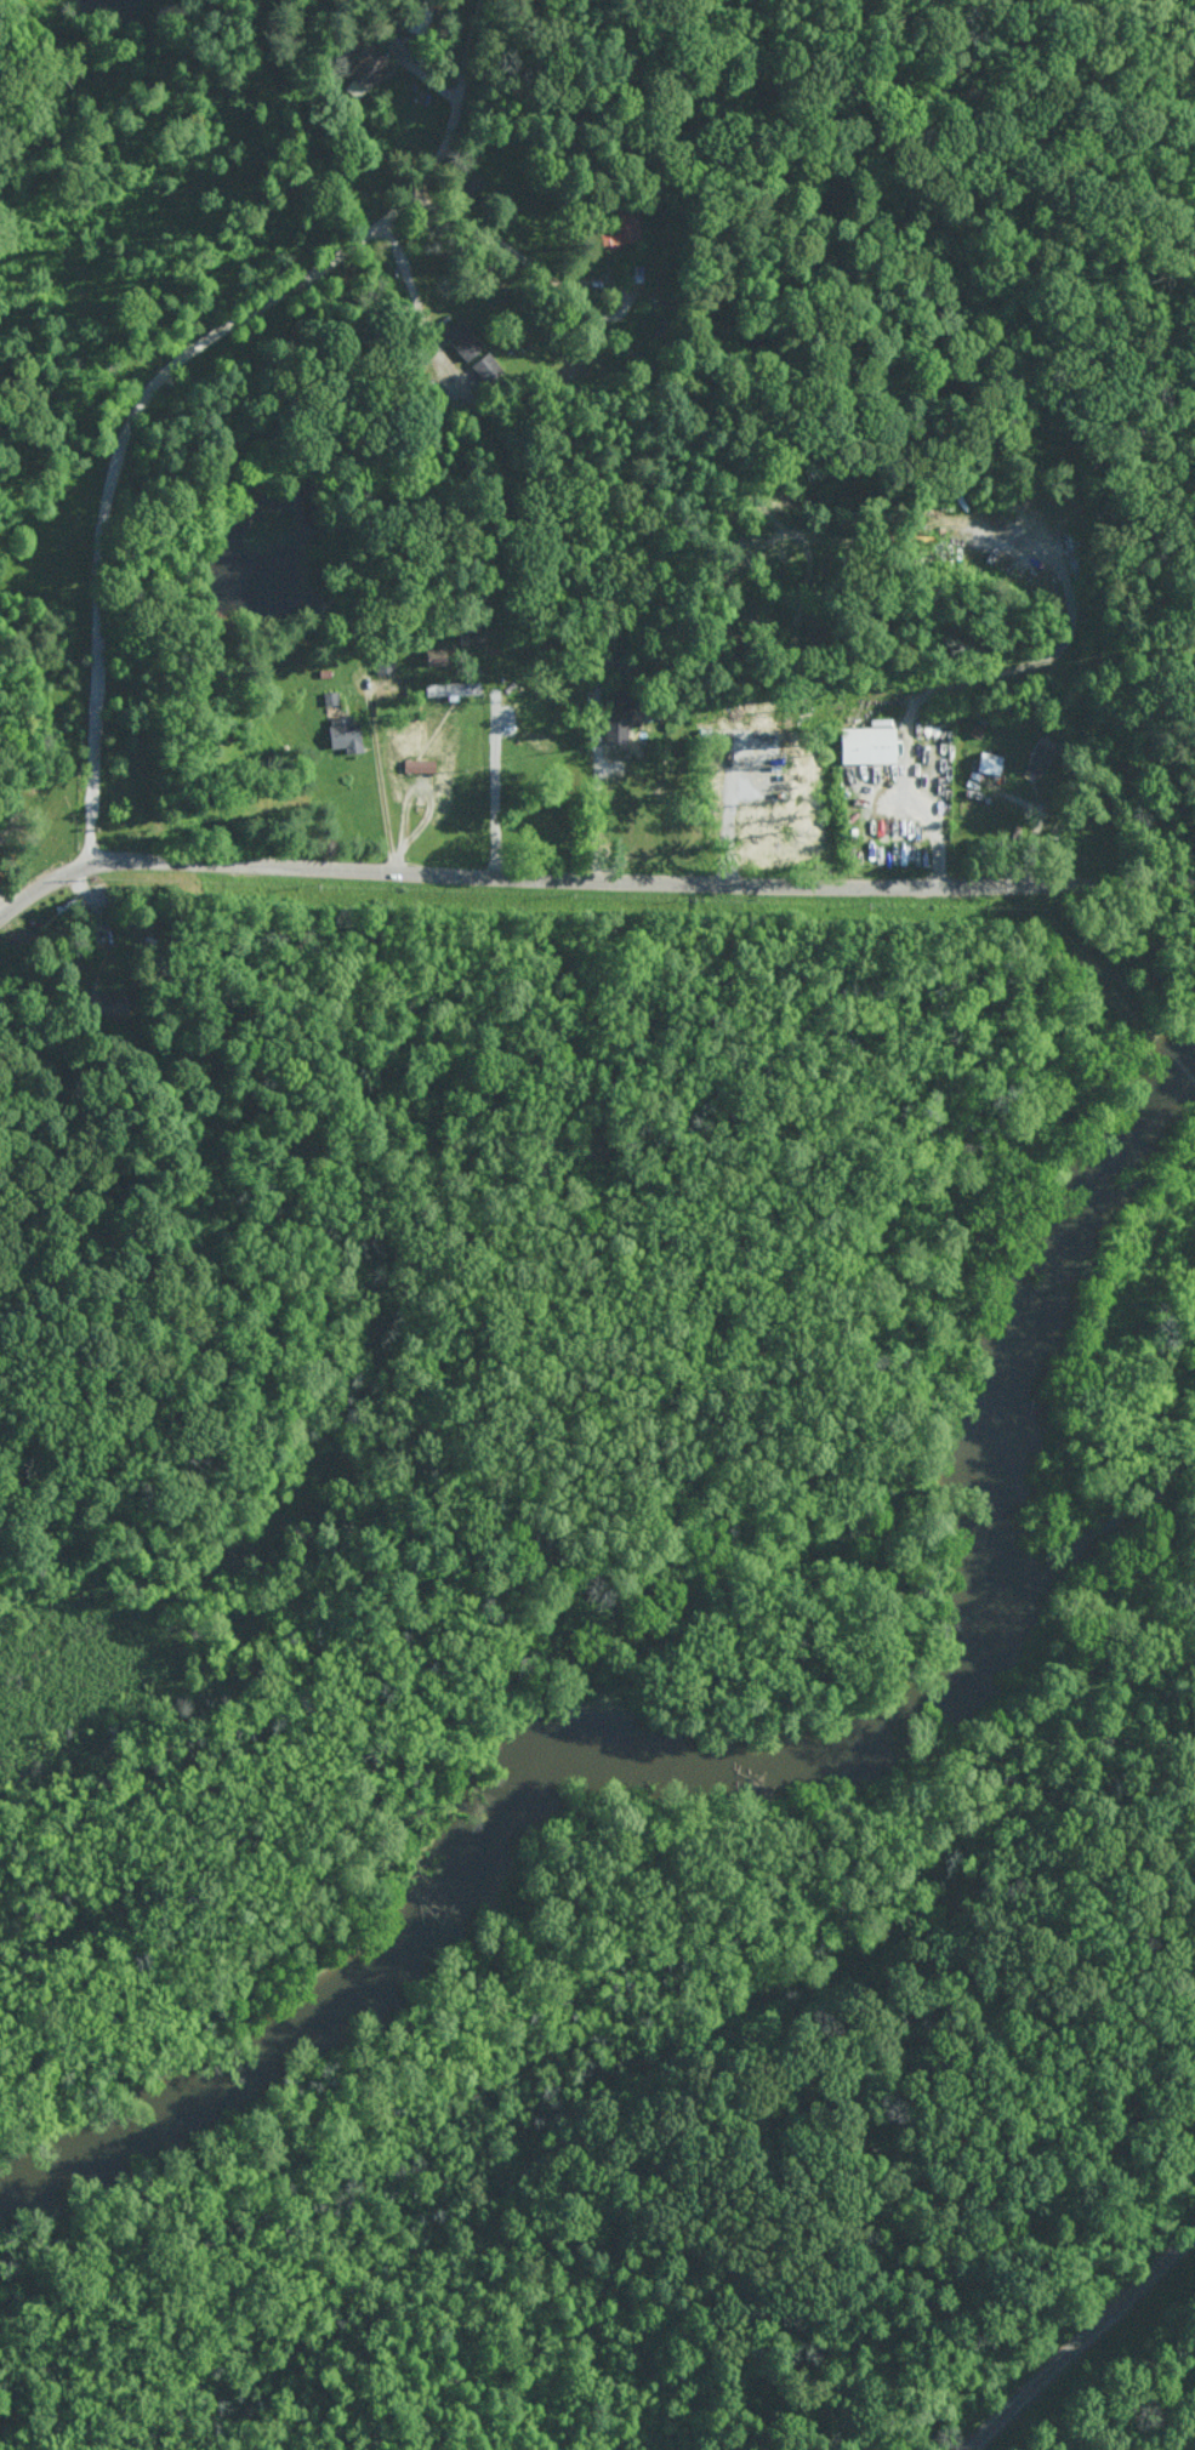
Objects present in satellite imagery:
building: (364, 70)
building: (619, 226)
road: (554, 279)
road: (414, 296)
building: (461, 338)
road: (169, 371)
road: (49, 574)
building: (434, 655)
building: (383, 663)
building: (451, 689)
building: (621, 711)
building: (343, 733)
building: (870, 743)
building: (1038, 756)
building: (989, 763)
road: (383, 800)
road: (593, 805)
road: (588, 877)
building: (102, 1002)
river: (746, 1766)
railway: (1081, 2343)

